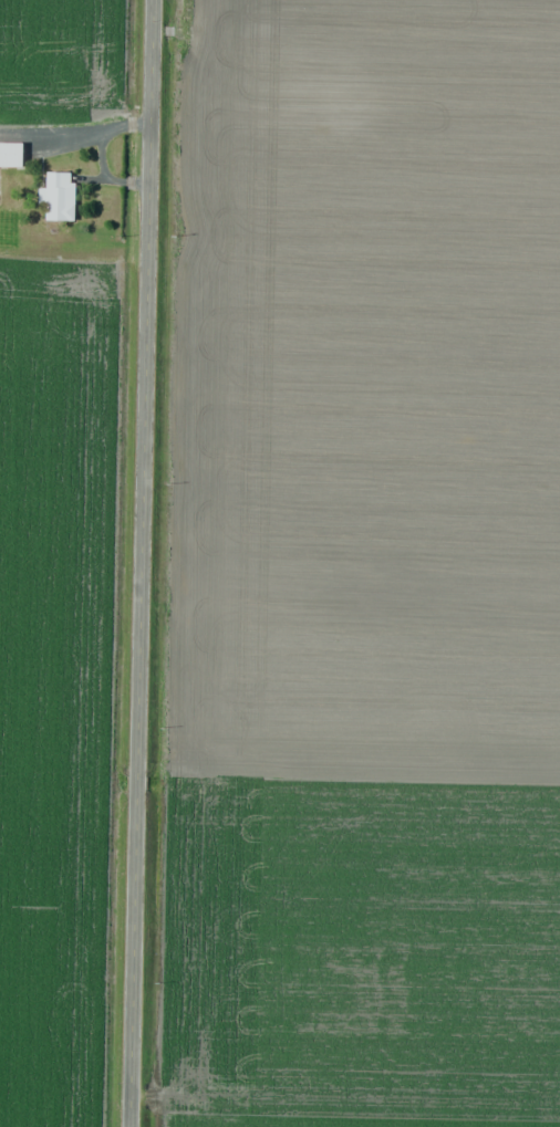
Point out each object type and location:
building: (11, 155)
building: (59, 196)
road: (137, 563)

